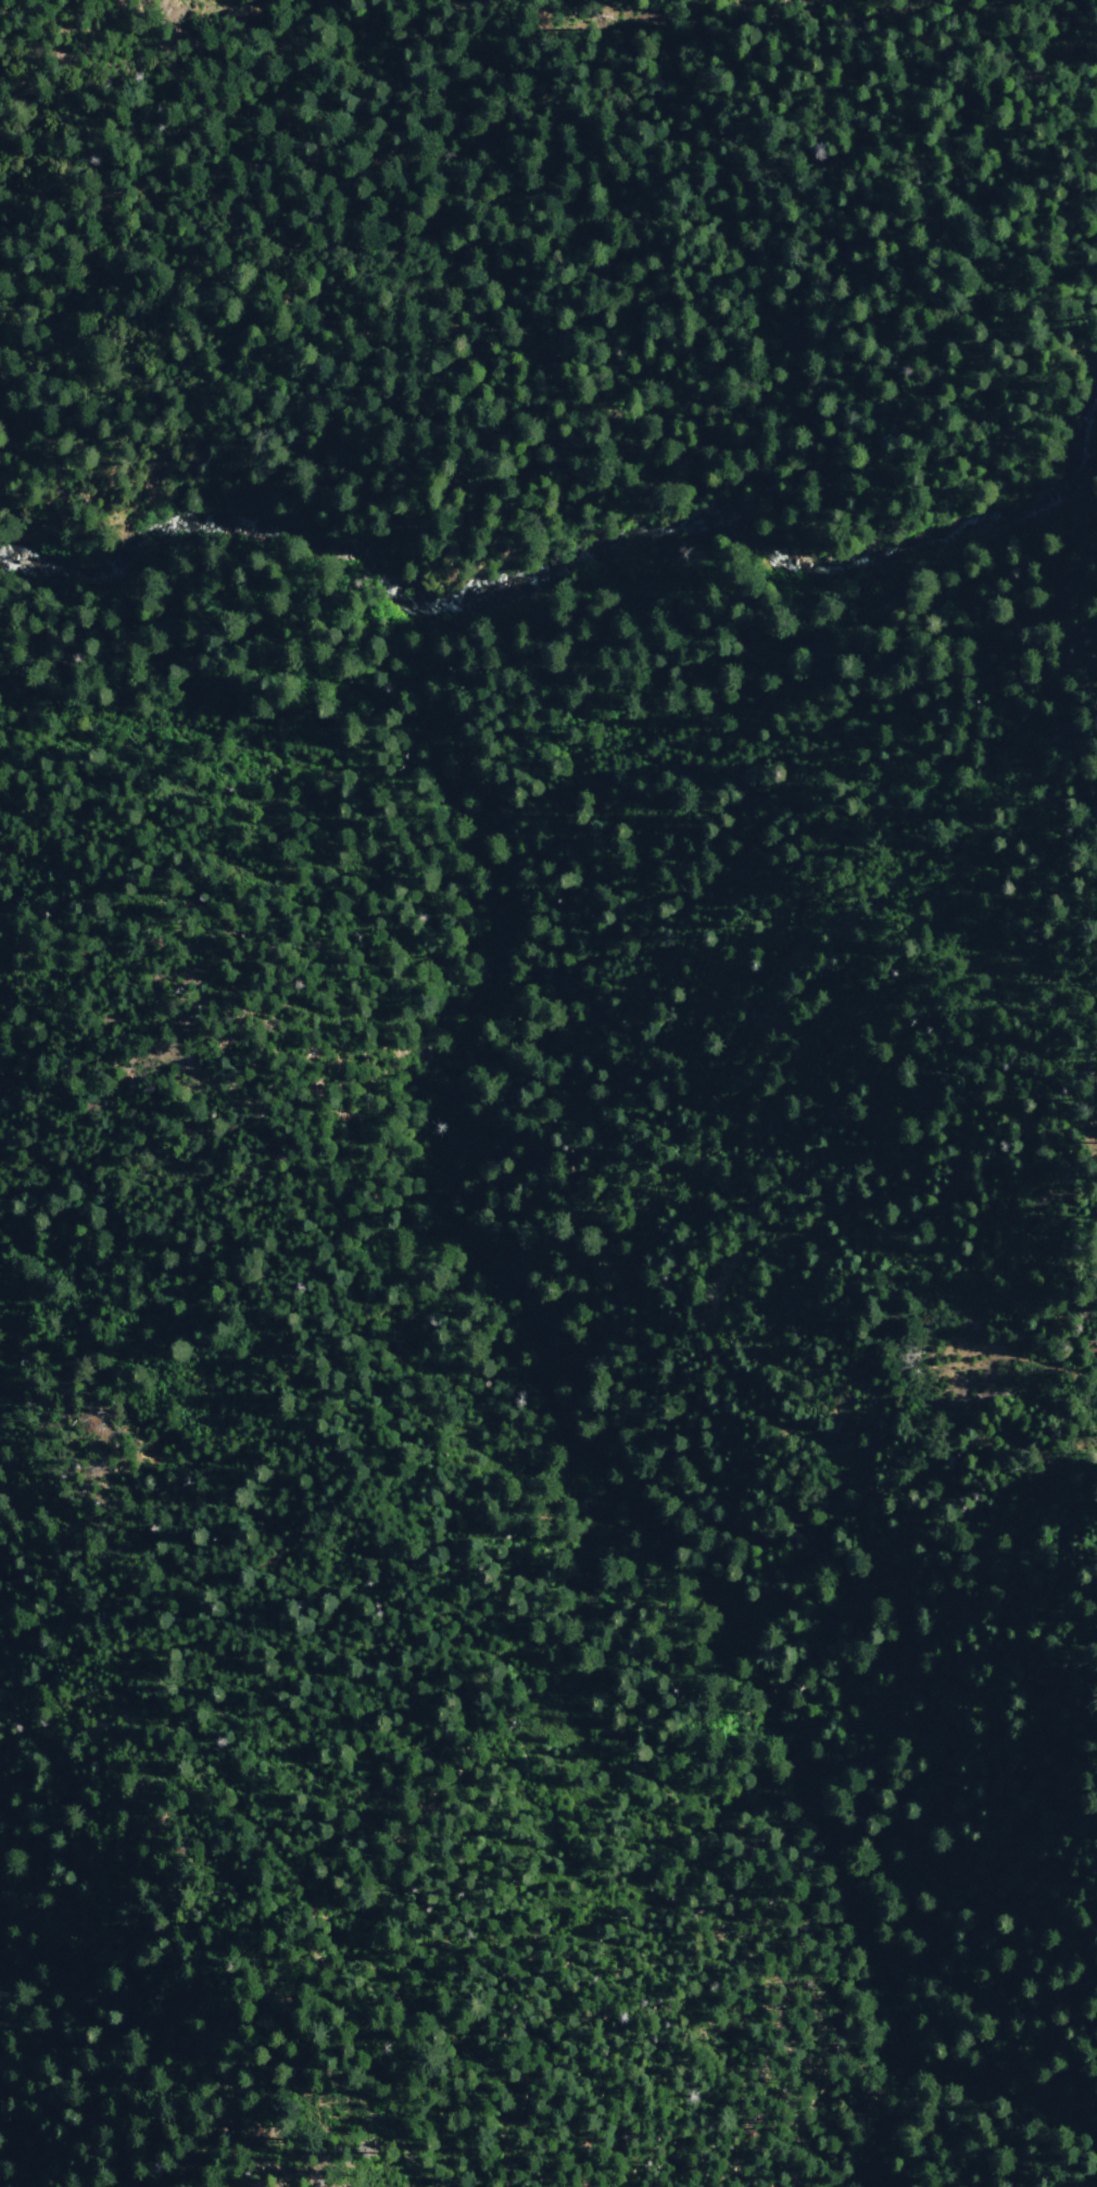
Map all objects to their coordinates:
river: (565, 556)

